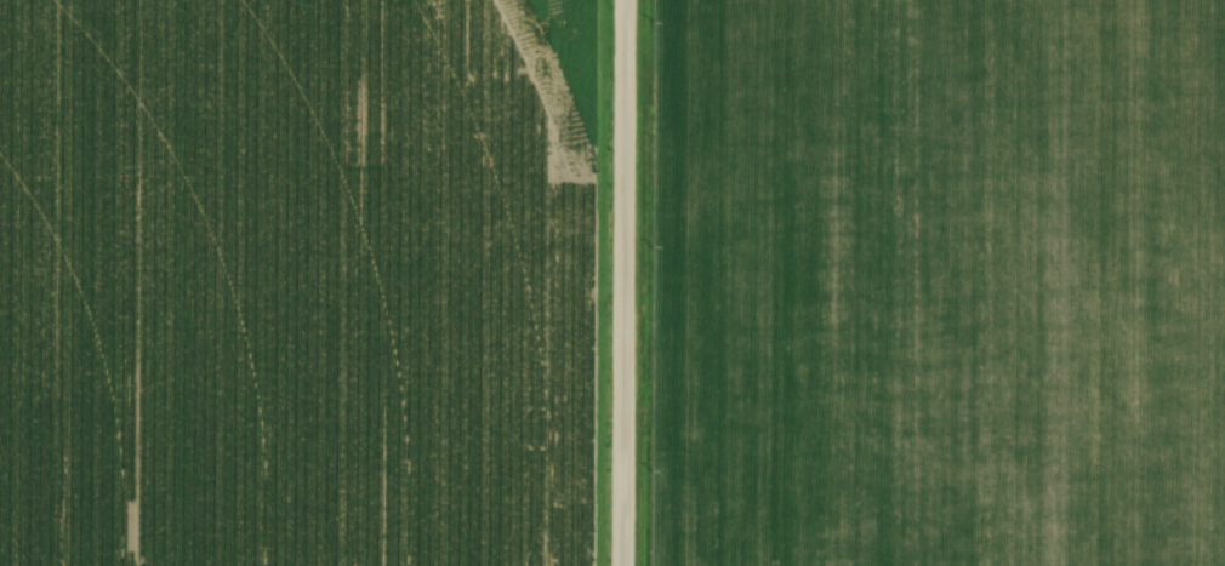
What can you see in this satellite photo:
road: (622, 282)

